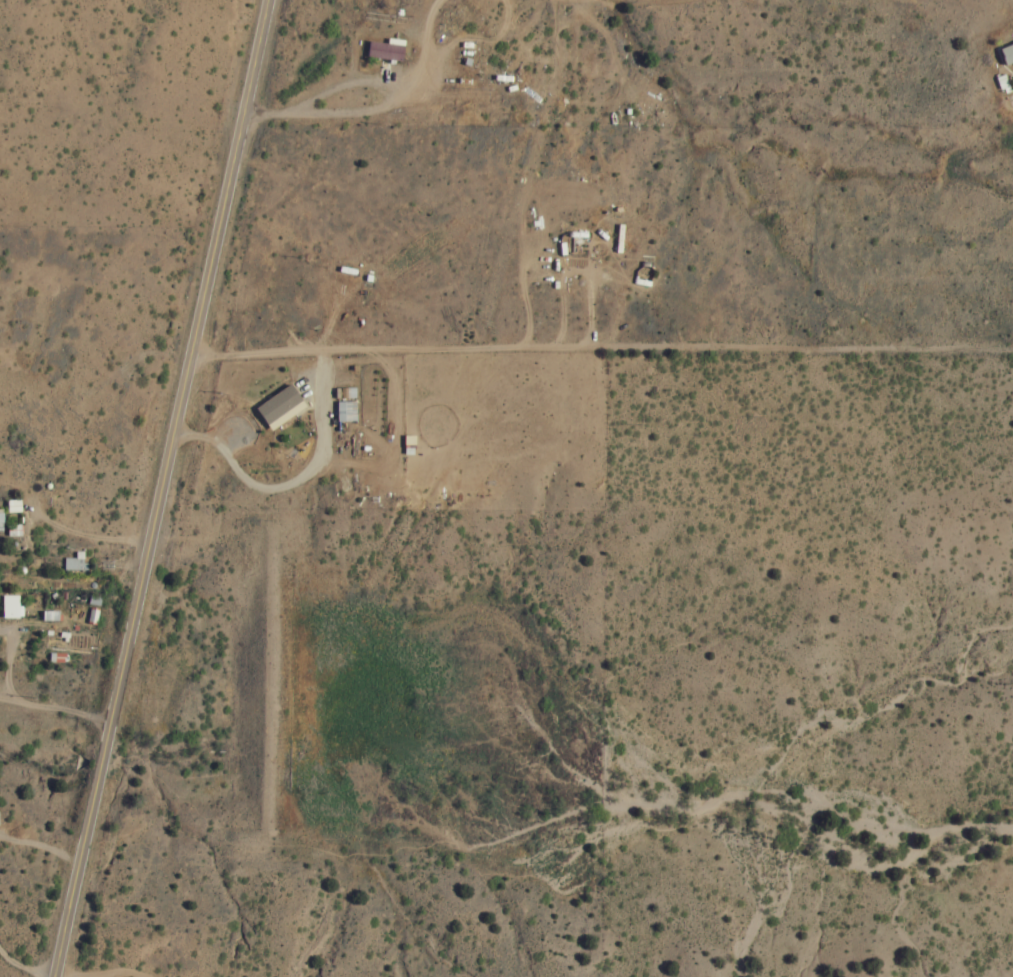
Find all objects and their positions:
building: (384, 49)
building: (1006, 53)
building: (1000, 82)
road: (341, 88)
building: (279, 407)
building: (344, 411)
road: (158, 487)
building: (12, 506)
building: (0, 521)
building: (74, 562)
building: (10, 607)
building: (49, 616)
road: (56, 714)

